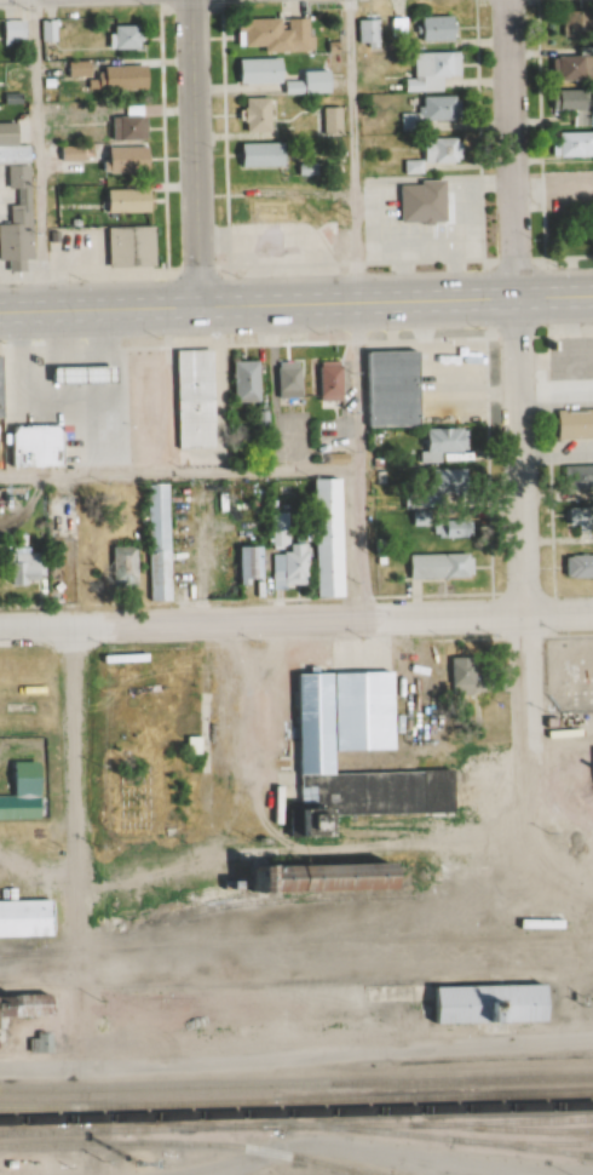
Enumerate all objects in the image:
building: (569, 24)
building: (433, 29)
building: (12, 30)
building: (367, 30)
building: (270, 35)
building: (122, 38)
building: (74, 69)
building: (568, 69)
building: (254, 71)
building: (430, 71)
building: (116, 78)
building: (307, 84)
building: (571, 105)
building: (436, 113)
building: (252, 115)
building: (329, 121)
building: (125, 127)
building: (4, 136)
building: (570, 145)
road: (352, 147)
road: (192, 149)
road: (36, 150)
building: (254, 155)
building: (433, 155)
building: (119, 160)
building: (120, 201)
building: (416, 202)
building: (12, 246)
building: (125, 247)
road: (553, 287)
road: (257, 296)
road: (514, 306)
building: (283, 382)
building: (238, 383)
building: (324, 383)
building: (386, 391)
building: (188, 400)
building: (571, 425)
building: (438, 446)
building: (29, 448)
road: (356, 457)
road: (178, 475)
building: (575, 480)
building: (451, 485)
building: (115, 493)
building: (577, 520)
building: (448, 528)
building: (322, 539)
building: (154, 544)
building: (242, 566)
building: (433, 567)
building: (119, 568)
building: (576, 568)
building: (18, 569)
road: (296, 620)
building: (457, 677)
road: (524, 723)
building: (549, 723)
road: (249, 739)
building: (188, 746)
building: (313, 763)
building: (19, 796)
road: (41, 836)
road: (76, 847)
road: (410, 849)
road: (146, 870)
road: (38, 878)
building: (315, 879)
building: (6, 895)
railway: (197, 911)
building: (23, 919)
railway: (295, 944)
railway: (296, 981)
building: (21, 1007)
building: (487, 1007)
building: (38, 1045)
road: (335, 1053)
road: (39, 1068)
railway: (296, 1085)
railway: (525, 1095)
railway: (229, 1104)
railway: (365, 1105)
railway: (296, 1112)
railway: (29, 1117)
railway: (177, 1120)
railway: (295, 1127)
railway: (485, 1134)
railway: (437, 1139)
railway: (186, 1145)
road: (339, 1145)
railway: (530, 1148)
railway: (588, 1156)
railway: (318, 1167)

